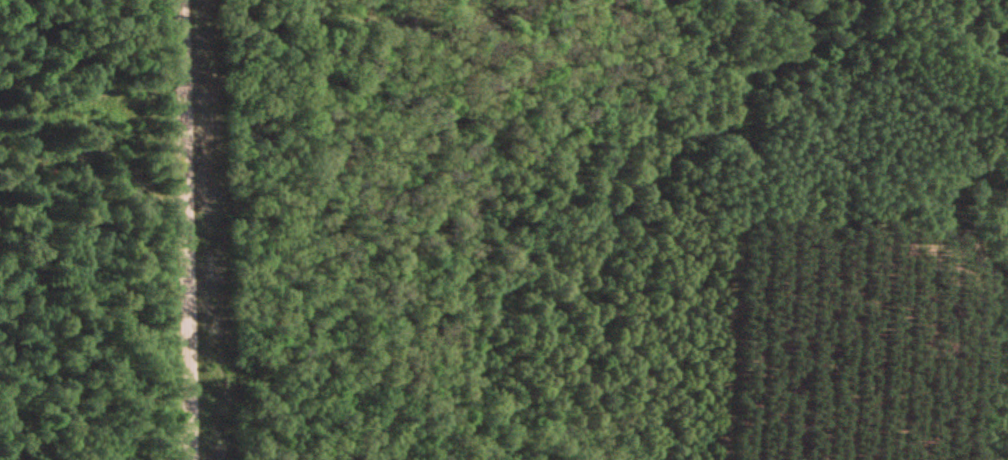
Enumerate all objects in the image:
road: (185, 230)

